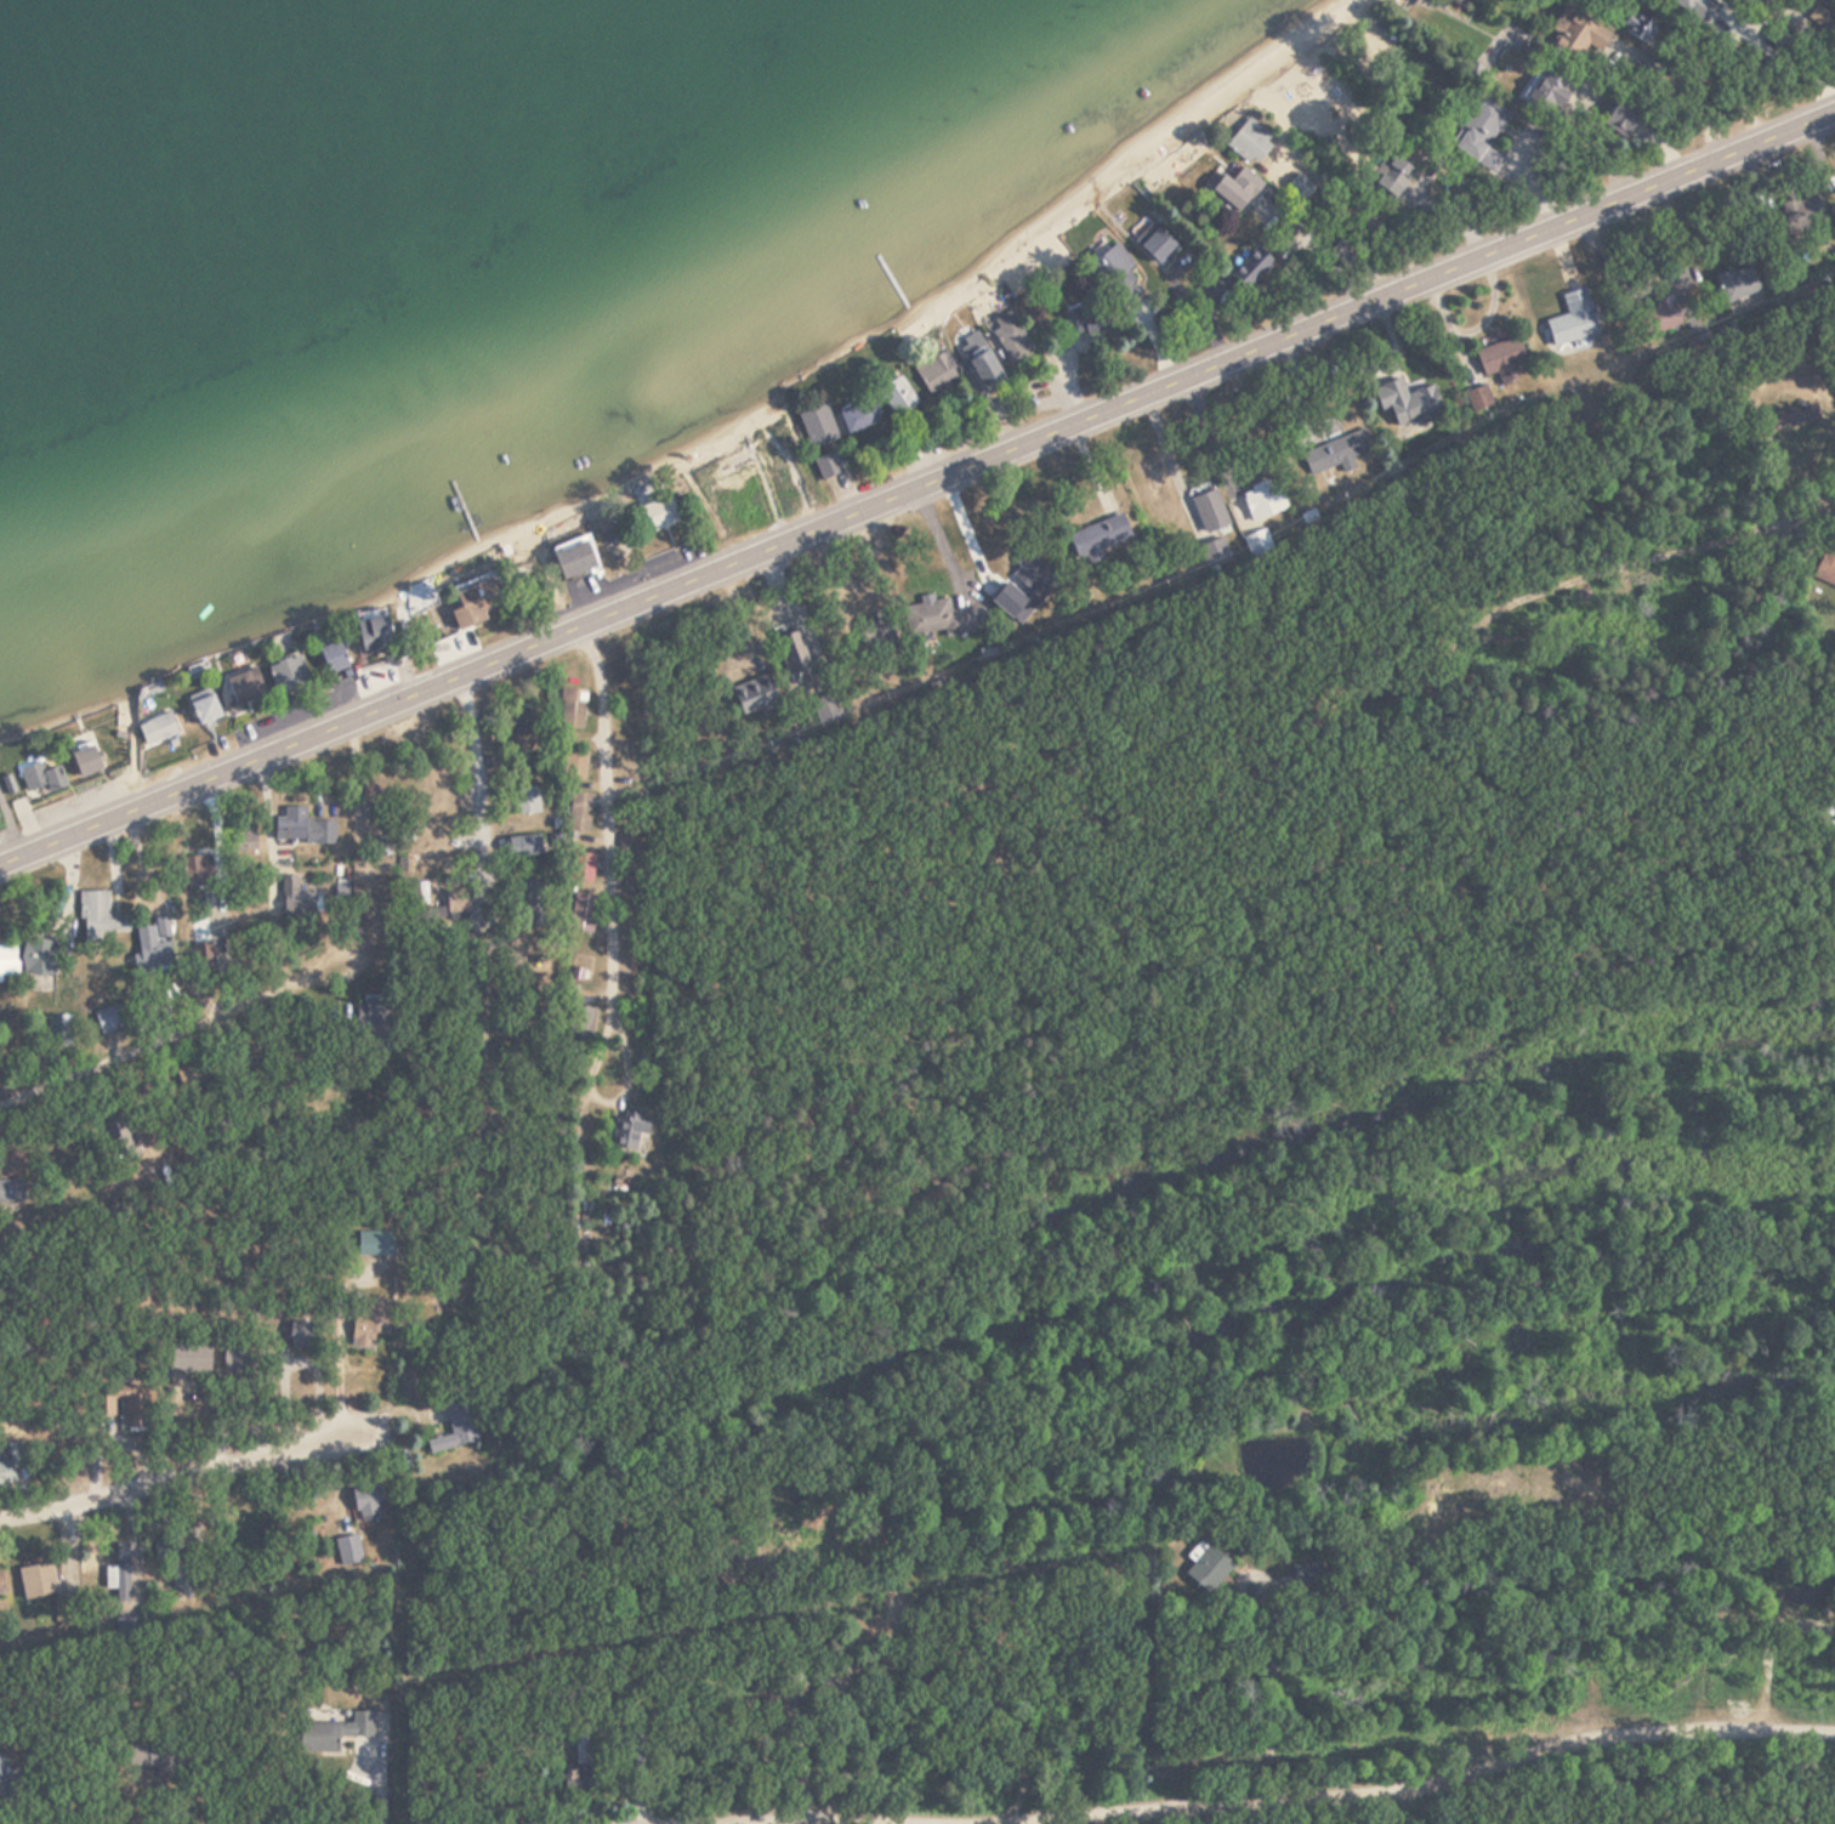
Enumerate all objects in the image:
building: (1580, 33)
building: (1547, 89)
building: (1621, 119)
building: (1481, 131)
building: (1249, 143)
building: (1390, 177)
building: (1233, 192)
building: (1802, 214)
building: (1153, 244)
building: (1340, 249)
building: (1112, 266)
building: (1251, 268)
building: (1735, 284)
building: (1659, 317)
building: (1086, 318)
building: (1572, 320)
building: (1009, 335)
building: (1499, 357)
building: (987, 374)
building: (936, 375)
road: (1064, 382)
building: (897, 397)
building: (1478, 400)
building: (1405, 403)
building: (1794, 417)
building: (857, 419)
building: (817, 427)
building: (1336, 453)
building: (825, 466)
road: (916, 488)
building: (1262, 500)
building: (1209, 512)
building: (655, 516)
building: (1101, 539)
building: (574, 558)
building: (1825, 568)
building: (1032, 570)
building: (472, 606)
building: (944, 618)
building: (371, 633)
building: (794, 653)
building: (331, 659)
building: (286, 675)
building: (244, 688)
building: (755, 694)
building: (204, 710)
building: (570, 710)
building: (523, 722)
building: (157, 731)
building: (84, 763)
building: (575, 766)
building: (41, 779)
building: (369, 791)
building: (527, 801)
road: (477, 808)
building: (580, 812)
building: (301, 828)
building: (243, 842)
building: (522, 846)
building: (584, 868)
building: (194, 870)
road: (606, 873)
building: (292, 897)
building: (528, 898)
building: (581, 913)
building: (98, 916)
building: (36, 956)
building: (7, 960)
building: (109, 1019)
building: (377, 1023)
building: (580, 1024)
building: (58, 1028)
road: (181, 1032)
building: (626, 1131)
building: (117, 1136)
building: (11, 1193)
building: (375, 1244)
building: (373, 1320)
building: (300, 1334)
building: (188, 1358)
building: (234, 1358)
building: (129, 1413)
building: (456, 1427)
road: (205, 1451)
building: (11, 1465)
building: (367, 1502)
building: (348, 1550)
building: (1204, 1568)
building: (119, 1574)
building: (35, 1581)
building: (0, 1585)
road: (404, 1613)
building: (1814, 1629)
building: (335, 1734)
building: (153, 1756)
building: (581, 1760)
building: (1, 1767)
road: (1234, 1800)

